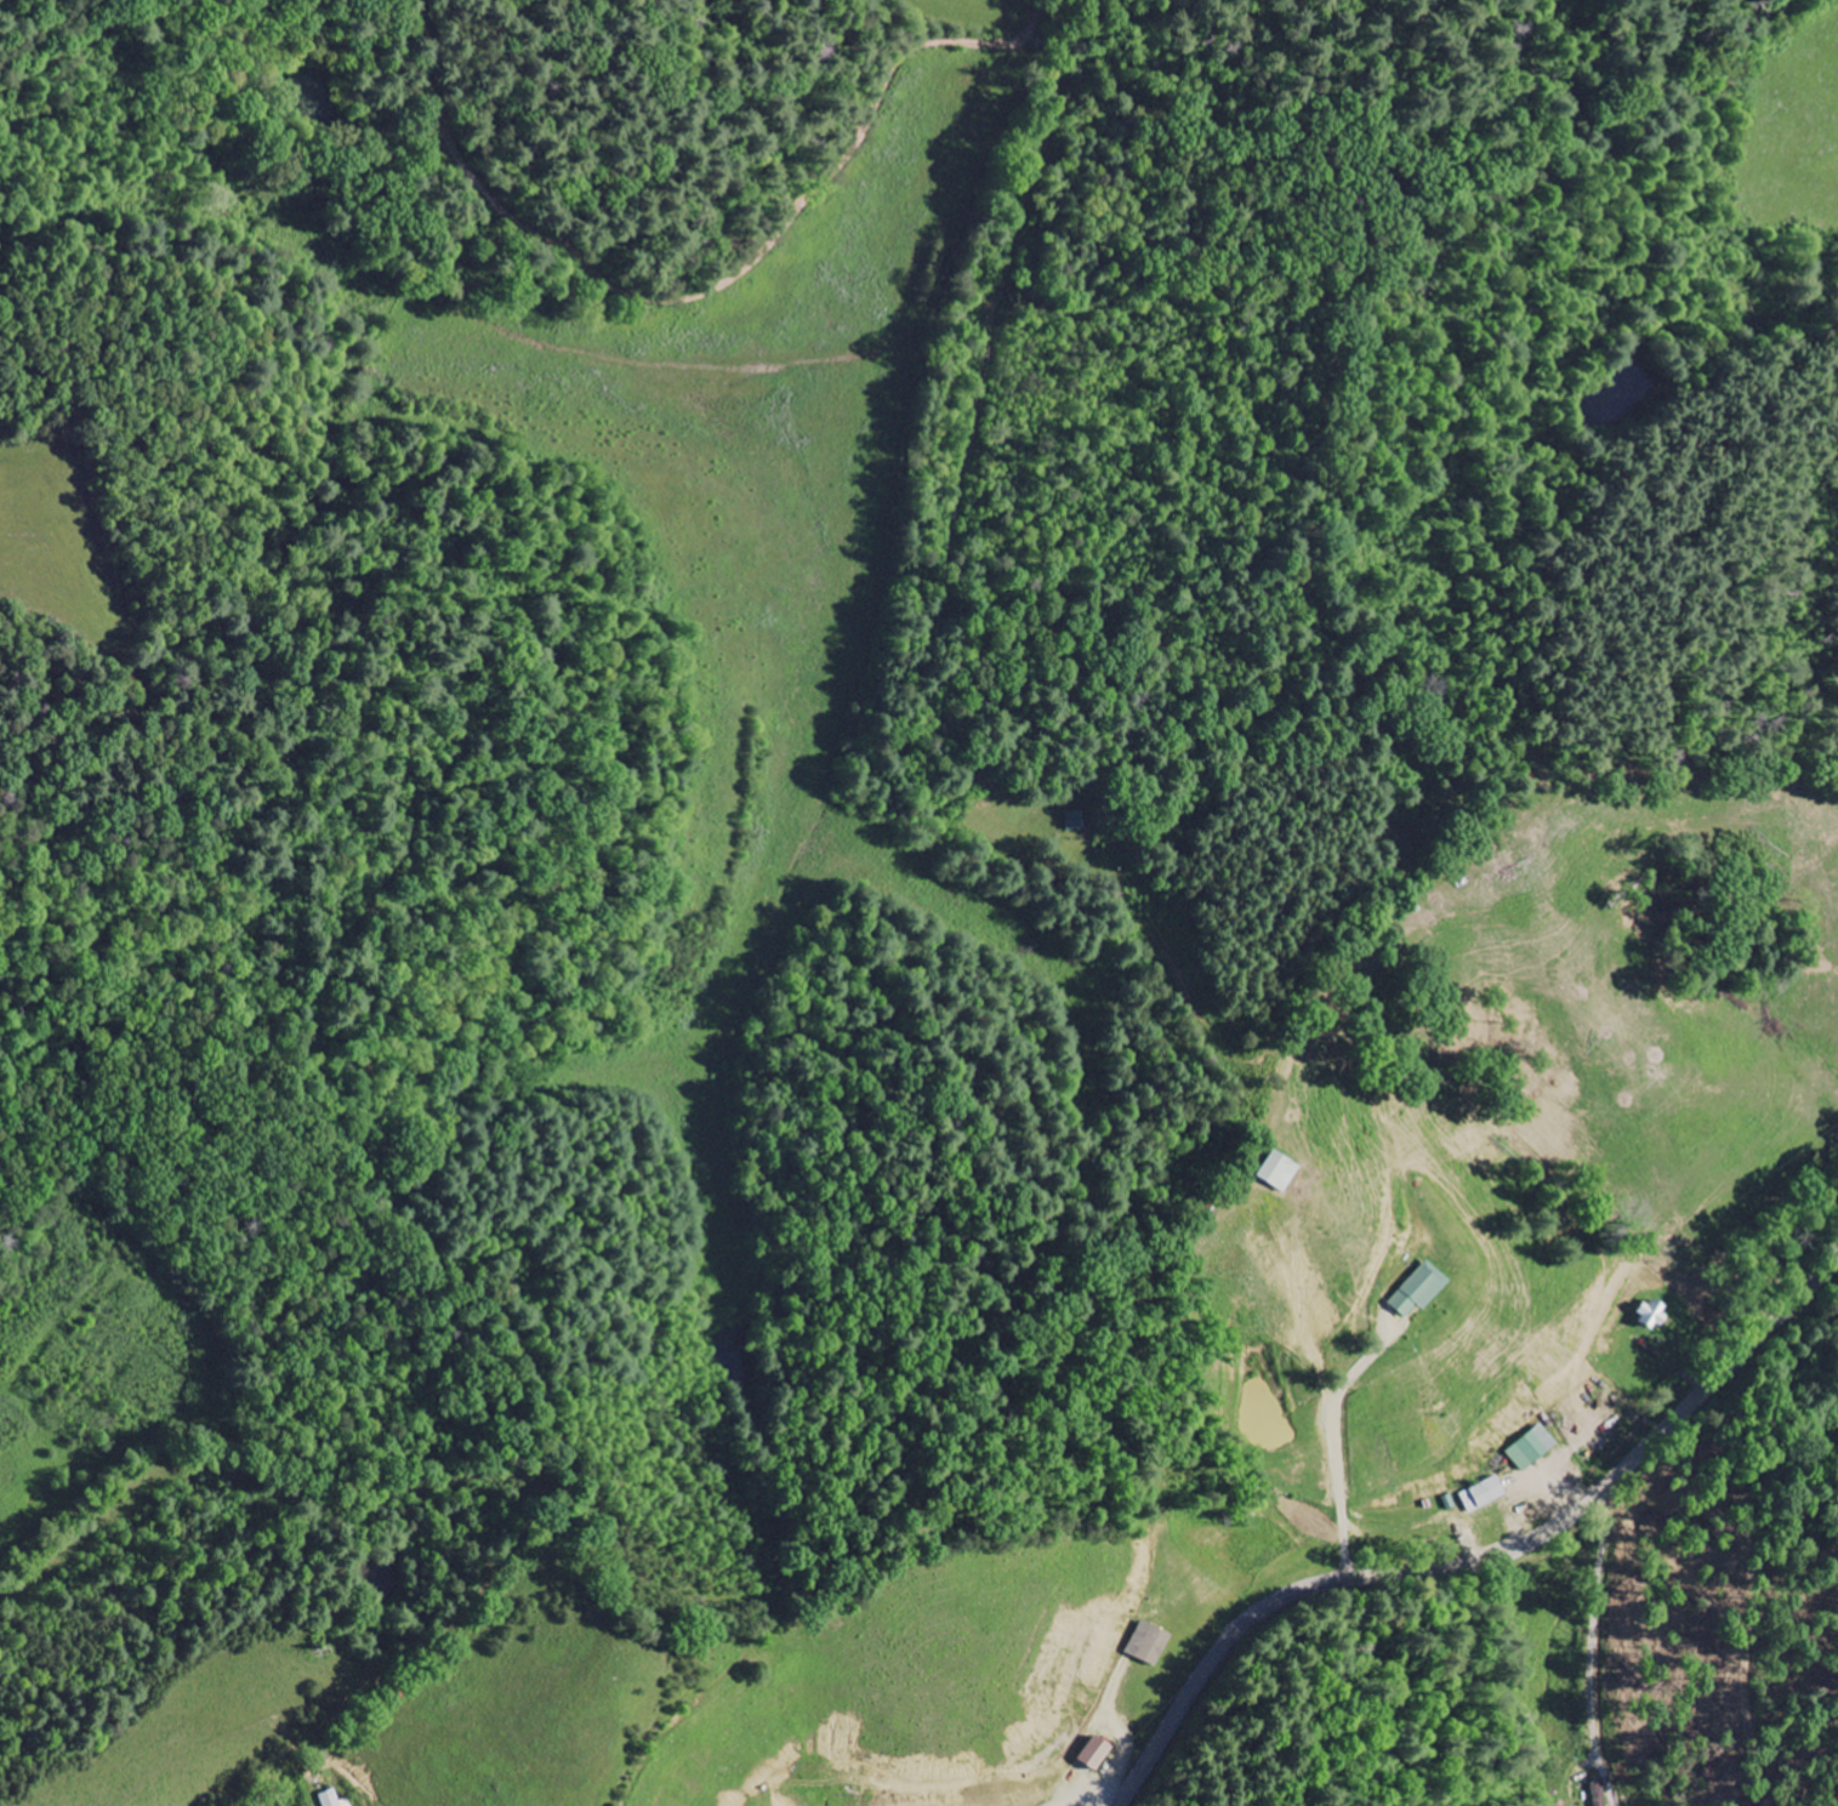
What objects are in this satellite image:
road: (718, 247)
building: (1275, 1173)
building: (1413, 1291)
building: (1527, 1448)
building: (1478, 1495)
road: (1476, 1560)
building: (1144, 1643)
building: (1088, 1754)
building: (1593, 1794)
building: (329, 1800)

